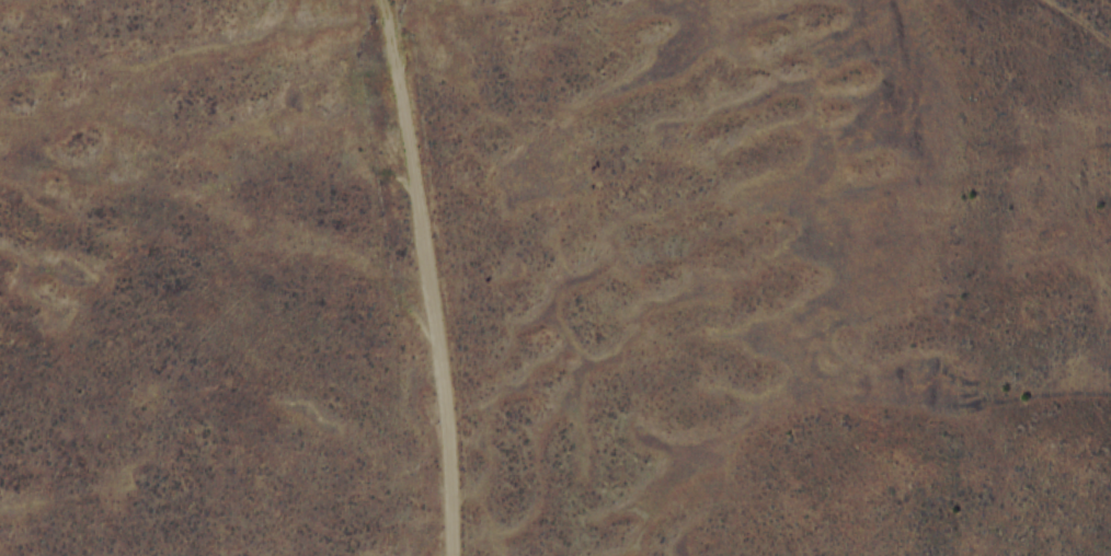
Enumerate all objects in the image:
road: (429, 276)

